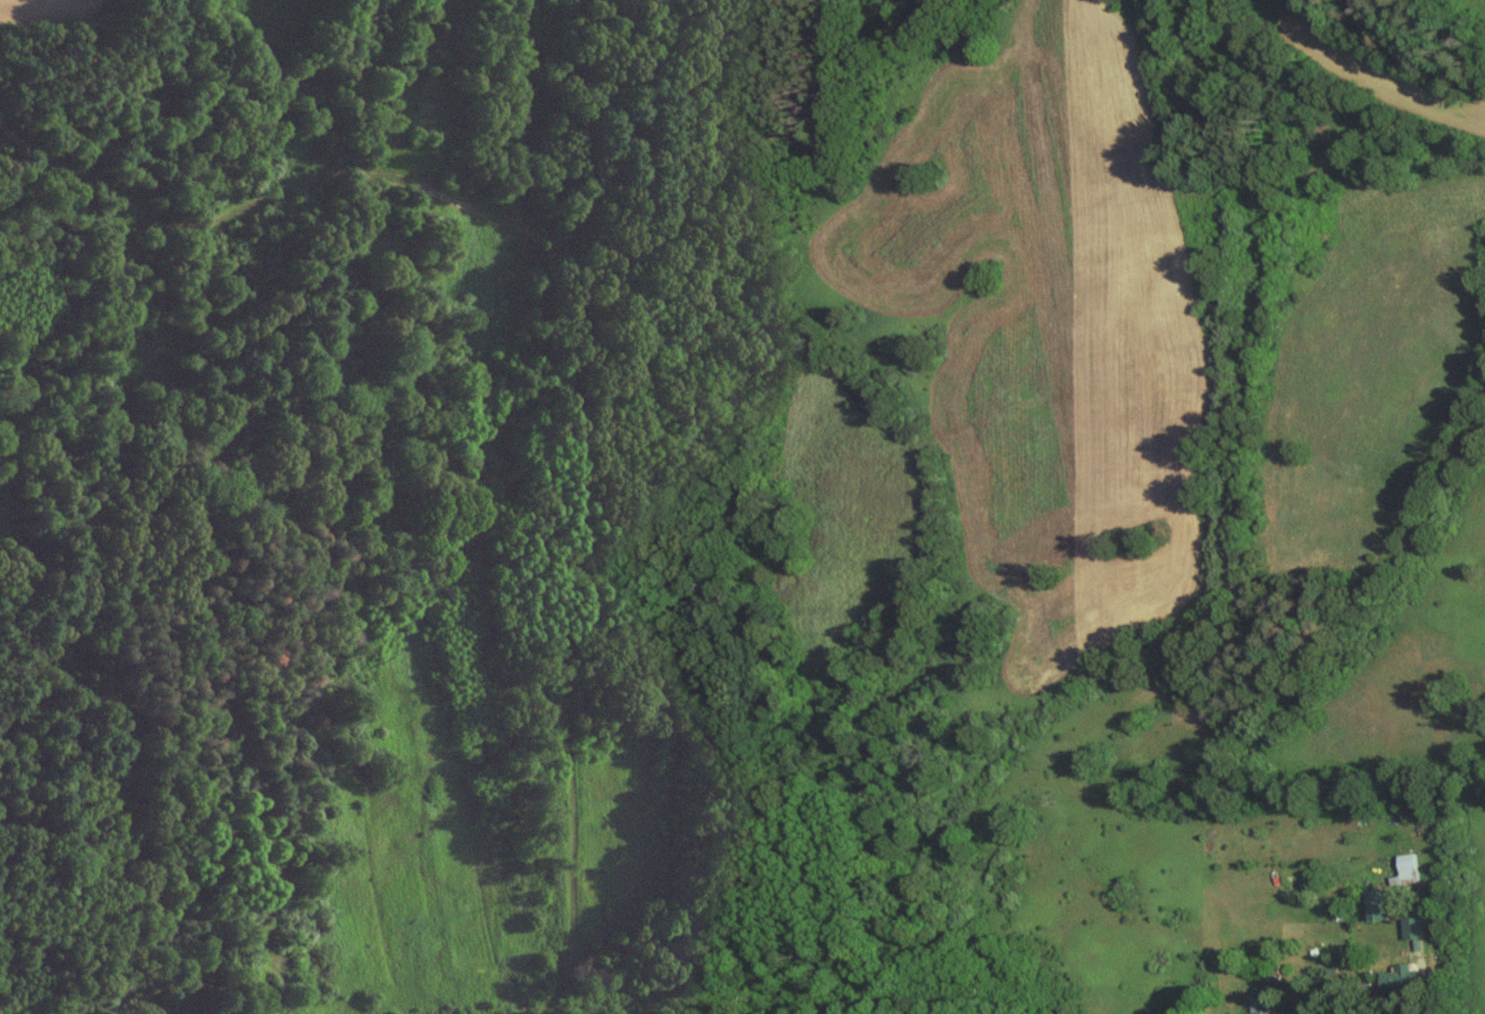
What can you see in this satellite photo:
road: (551, 332)
building: (1405, 869)
building: (1377, 904)
building: (1411, 926)
road: (1418, 978)
building: (1398, 979)
building: (1258, 1001)

